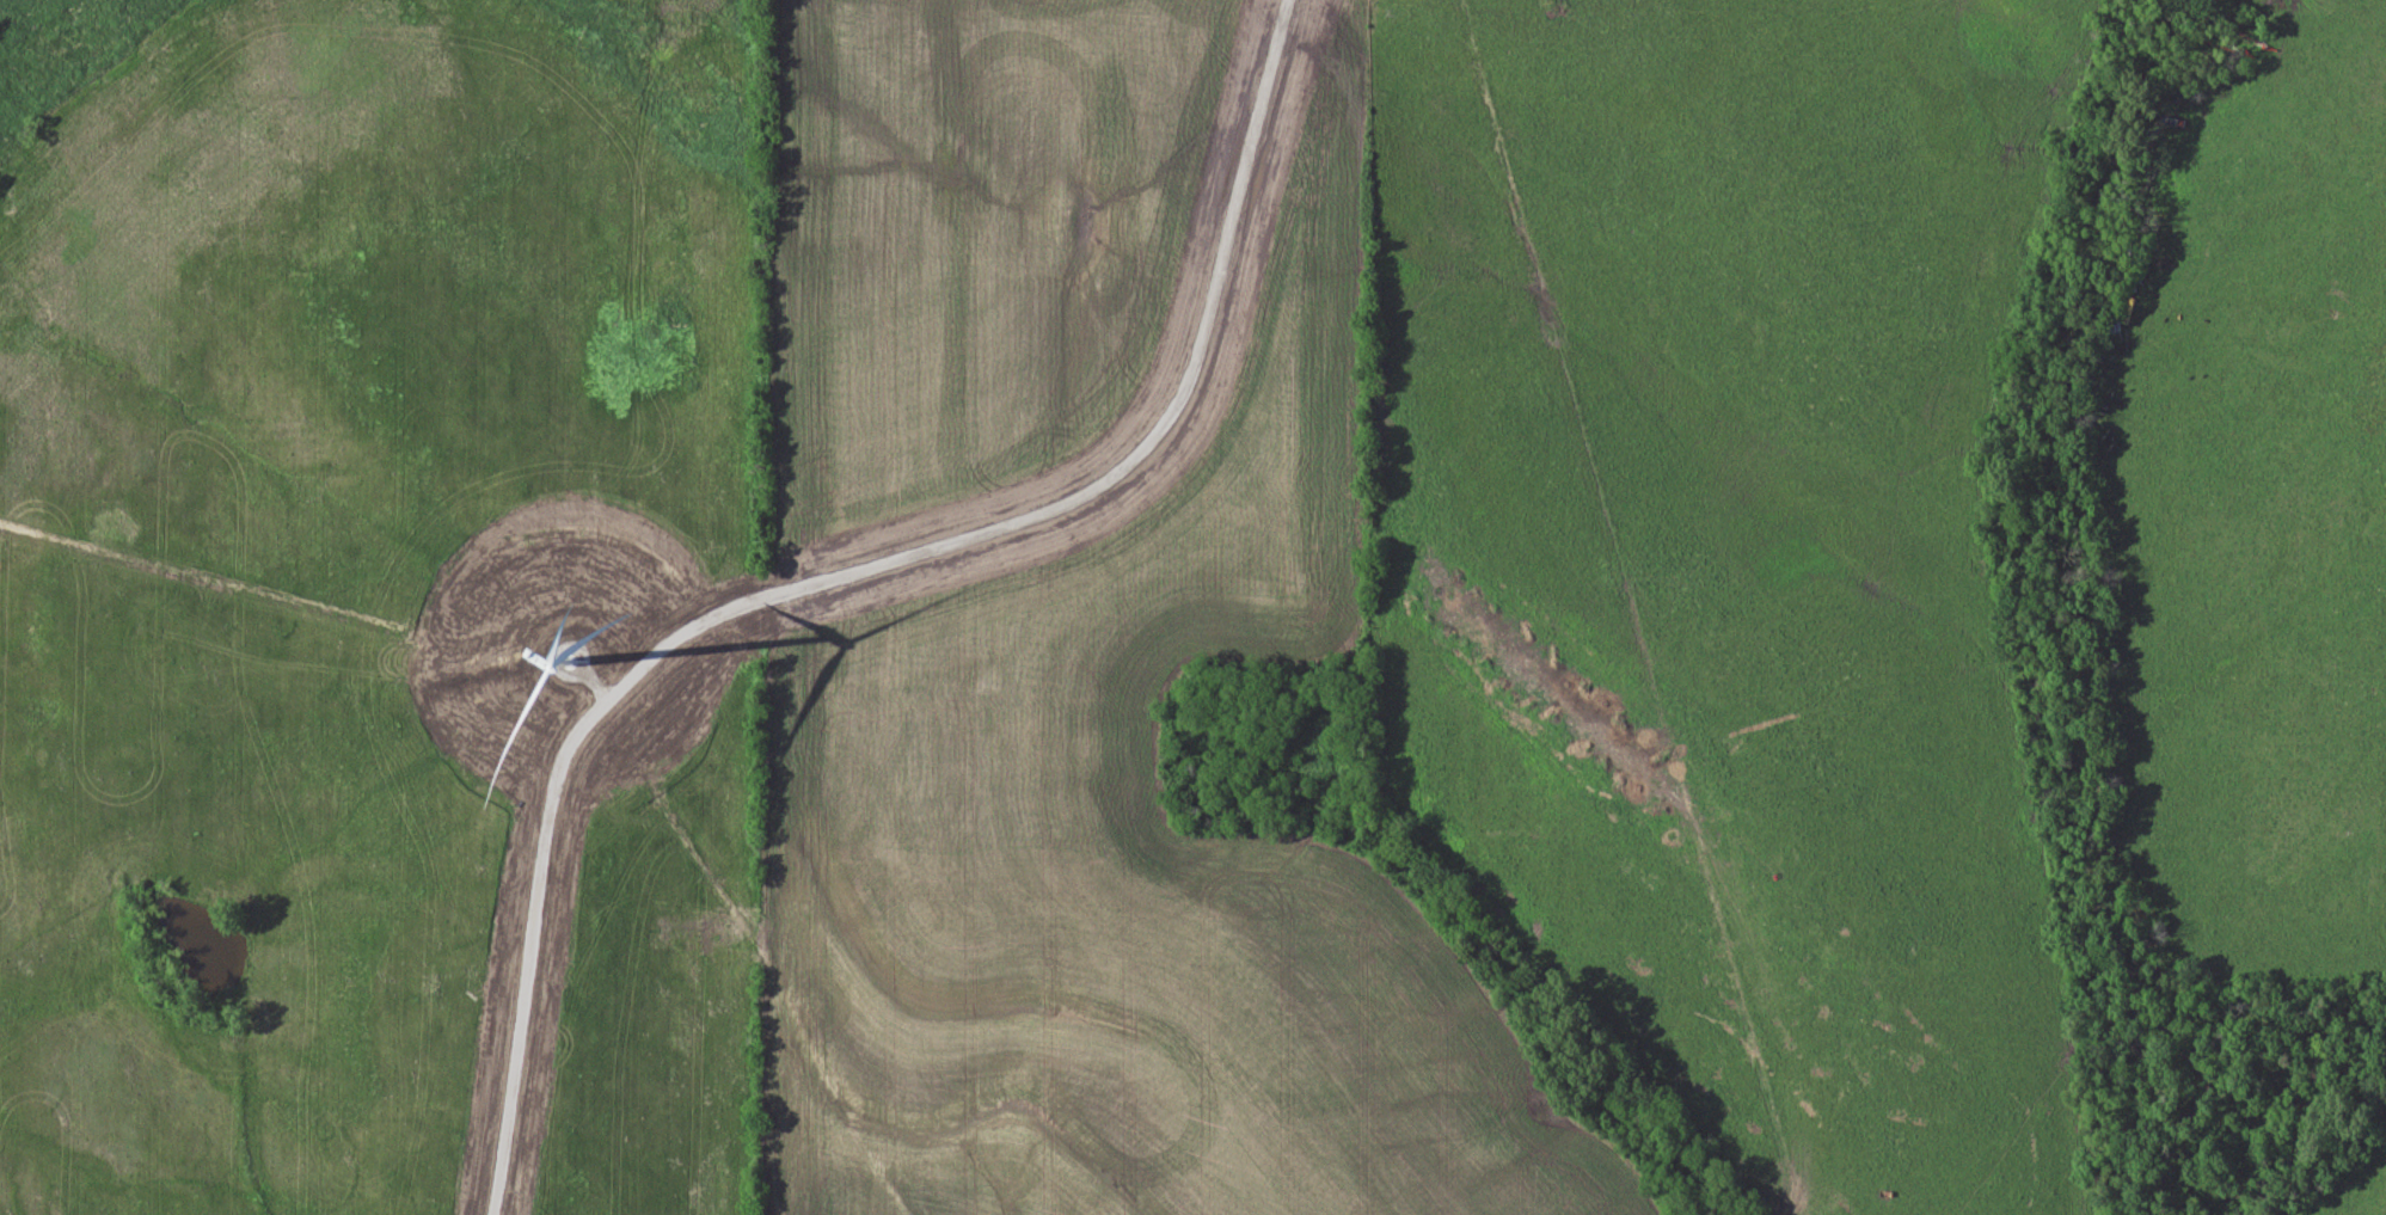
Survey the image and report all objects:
wind turbine: (572, 659)

